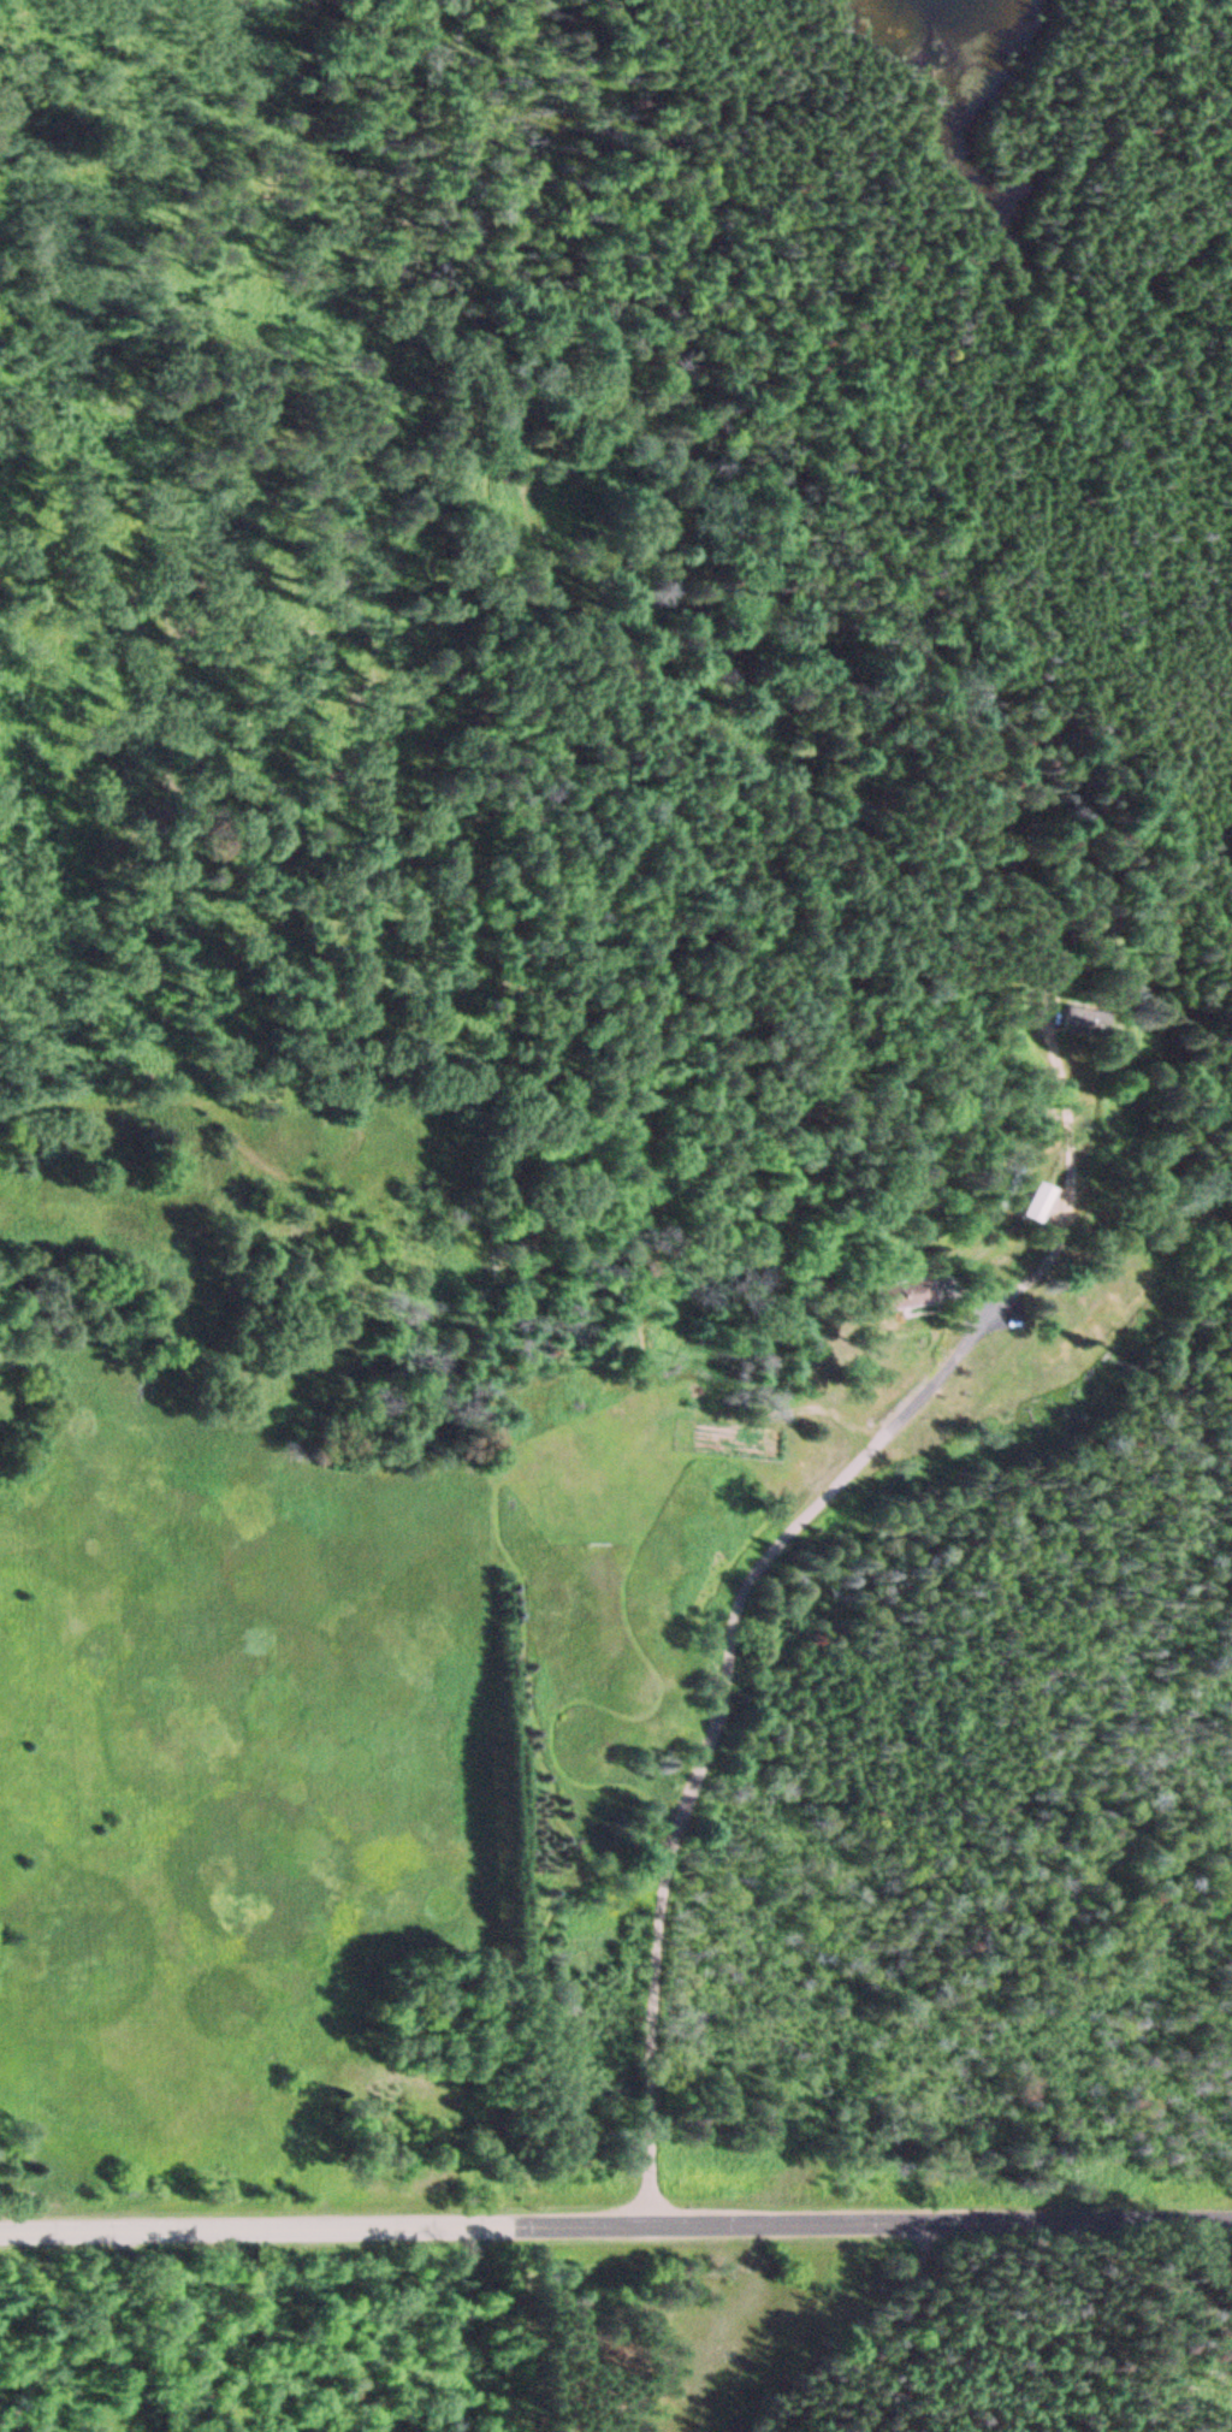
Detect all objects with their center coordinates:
building: (1083, 1022)
building: (1033, 1205)
building: (902, 1296)
road: (615, 2226)

